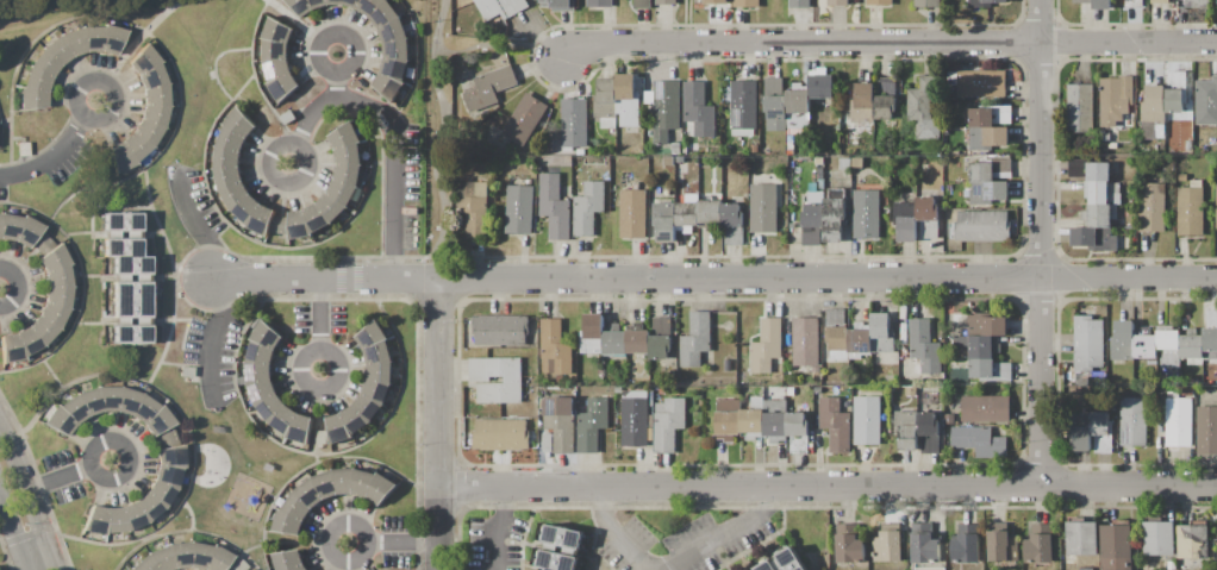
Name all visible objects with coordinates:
road: (5, 0)
building: (993, 0)
building: (335, 1)
building: (667, 1)
building: (880, 1)
building: (1159, 1)
building: (1216, 1)
building: (318, 2)
building: (350, 2)
building: (599, 2)
building: (716, 2)
building: (747, 2)
building: (837, 2)
building: (1134, 2)
building: (1197, 2)
park: (26, 4)
building: (642, 4)
building: (800, 4)
building: (928, 4)
building: (1098, 4)
building: (558, 5)
building: (300, 6)
building: (368, 6)
building: (501, 7)
building: (383, 14)
building: (286, 15)
road: (299, 26)
building: (393, 30)
building: (277, 32)
building: (92, 38)
building: (112, 38)
building: (74, 42)
road: (890, 42)
road: (136, 46)
road: (503, 48)
building: (397, 49)
building: (274, 50)
building: (57, 51)
building: (142, 61)
building: (44, 64)
building: (394, 67)
building: (276, 69)
road: (336, 74)
building: (149, 77)
building: (36, 81)
building: (493, 83)
building: (982, 83)
building: (886, 84)
building: (388, 86)
building: (822, 86)
building: (282, 87)
building: (155, 95)
building: (1115, 99)
building: (31, 100)
building: (1206, 101)
building: (618, 102)
building: (1160, 102)
building: (775, 104)
building: (862, 104)
building: (698, 107)
building: (885, 107)
building: (923, 107)
building: (743, 108)
building: (798, 108)
building: (1080, 108)
building: (666, 109)
building: (155, 113)
building: (990, 115)
building: (287, 118)
building: (524, 120)
building: (239, 123)
building: (575, 123)
road: (394, 126)
building: (148, 131)
building: (860, 132)
building: (1160, 132)
building: (1104, 136)
building: (345, 137)
building: (988, 137)
road: (443, 139)
building: (231, 140)
building: (136, 145)
building: (790, 145)
building: (1112, 145)
building: (1188, 145)
building: (676, 148)
building: (23, 149)
building: (754, 149)
building: (685, 150)
road: (58, 151)
building: (121, 157)
building: (348, 157)
building: (226, 158)
building: (669, 159)
building: (856, 163)
building: (844, 164)
building: (1003, 169)
building: (981, 171)
building: (819, 174)
building: (348, 175)
building: (227, 177)
building: (959, 177)
building: (634, 184)
building: (812, 187)
road: (145, 188)
building: (341, 193)
building: (987, 193)
building: (233, 194)
building: (1216, 203)
building: (554, 206)
building: (1153, 206)
building: (473, 207)
building: (763, 207)
building: (330, 208)
building: (587, 208)
building: (1190, 208)
building: (245, 209)
building: (519, 209)
building: (1099, 209)
building: (634, 213)
building: (866, 214)
building: (928, 215)
building: (685, 217)
building: (314, 219)
building: (834, 219)
building: (905, 220)
building: (120, 221)
building: (261, 221)
building: (812, 223)
building: (732, 224)
building: (280, 225)
building: (982, 225)
building: (298, 226)
building: (10, 227)
road: (195, 227)
building: (27, 231)
building: (42, 243)
road: (1041, 243)
building: (120, 248)
building: (54, 258)
building: (131, 264)
building: (57, 277)
road: (716, 277)
building: (58, 296)
building: (130, 300)
building: (52, 314)
building: (986, 324)
building: (662, 325)
road: (319, 326)
building: (42, 328)
building: (499, 330)
building: (592, 333)
building: (881, 333)
building: (130, 334)
building: (372, 334)
building: (266, 336)
building: (1167, 337)
building: (837, 338)
building: (27, 340)
building: (694, 340)
building: (806, 340)
building: (860, 340)
building: (1123, 340)
building: (638, 342)
building: (1210, 342)
building: (616, 343)
building: (1087, 343)
building: (1191, 344)
building: (766, 345)
building: (925, 345)
building: (660, 346)
building: (1146, 346)
building: (11, 349)
building: (555, 349)
building: (258, 353)
building: (376, 353)
building: (987, 361)
building: (726, 365)
building: (816, 370)
building: (186, 371)
building: (256, 371)
building: (379, 371)
building: (741, 374)
road: (131, 376)
building: (670, 376)
building: (495, 380)
building: (260, 390)
building: (375, 390)
building: (911, 390)
building: (791, 392)
building: (110, 399)
building: (92, 400)
building: (129, 401)
building: (757, 402)
building: (775, 405)
building: (366, 406)
building: (268, 407)
building: (986, 408)
building: (74, 409)
building: (144, 409)
building: (282, 419)
building: (352, 419)
building: (728, 419)
building: (949, 419)
building: (751, 420)
building: (868, 420)
building: (1179, 420)
building: (58, 421)
building: (160, 421)
building: (1132, 421)
building: (561, 422)
building: (635, 422)
building: (668, 422)
road: (436, 425)
building: (592, 425)
building: (836, 425)
building: (775, 427)
building: (299, 430)
building: (337, 430)
building: (918, 430)
building: (1207, 430)
building: (798, 431)
building: (1093, 431)
building: (500, 434)
building: (323, 437)
building: (168, 438)
building: (980, 440)
building: (547, 443)
building: (171, 457)
road: (65, 474)
building: (168, 476)
building: (343, 480)
building: (361, 482)
building: (324, 483)
road: (826, 487)
building: (379, 488)
building: (161, 493)
building: (307, 493)
road: (27, 500)
building: (148, 507)
building: (295, 507)
building: (131, 516)
building: (95, 520)
building: (114, 520)
building: (287, 524)
road: (495, 526)
road: (610, 532)
road: (725, 534)
road: (12, 535)
building: (563, 537)
building: (1081, 538)
building: (1157, 538)
building: (887, 541)
building: (1001, 541)
building: (1193, 541)
road: (282, 543)
building: (849, 543)
road: (393, 544)
building: (925, 544)
building: (966, 544)
building: (1040, 544)
building: (1115, 546)
building: (181, 555)
building: (199, 556)
road: (36, 557)
building: (162, 558)
building: (218, 559)
building: (286, 559)
building: (790, 559)
building: (557, 560)
building: (144, 563)
building: (767, 565)
building: (1171, 565)
building: (238, 566)
building: (299, 568)
park: (1, 569)
building: (131, 569)
building: (1086, 569)

